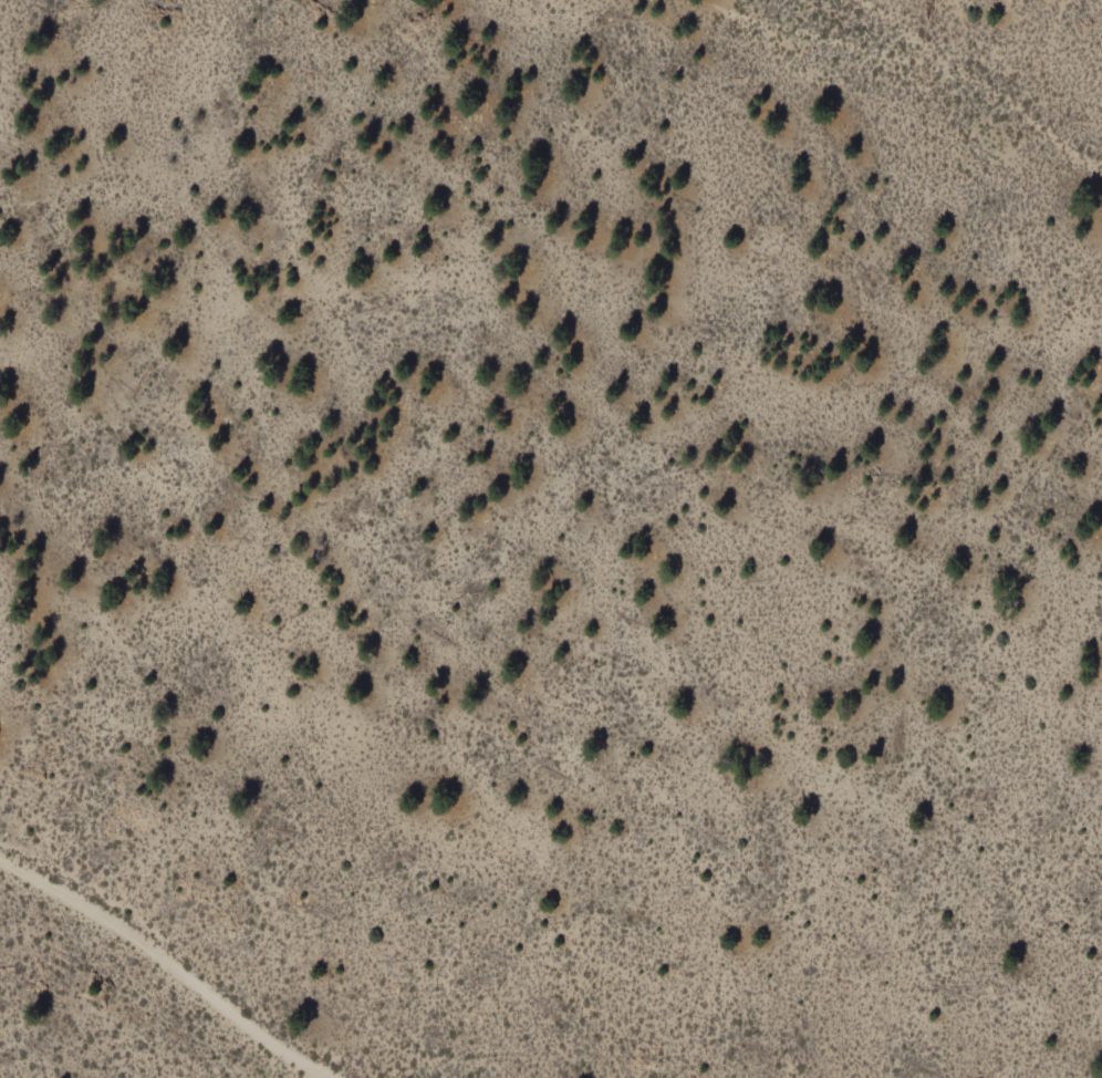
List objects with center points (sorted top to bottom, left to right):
road: (1073, 160)
road: (164, 965)

